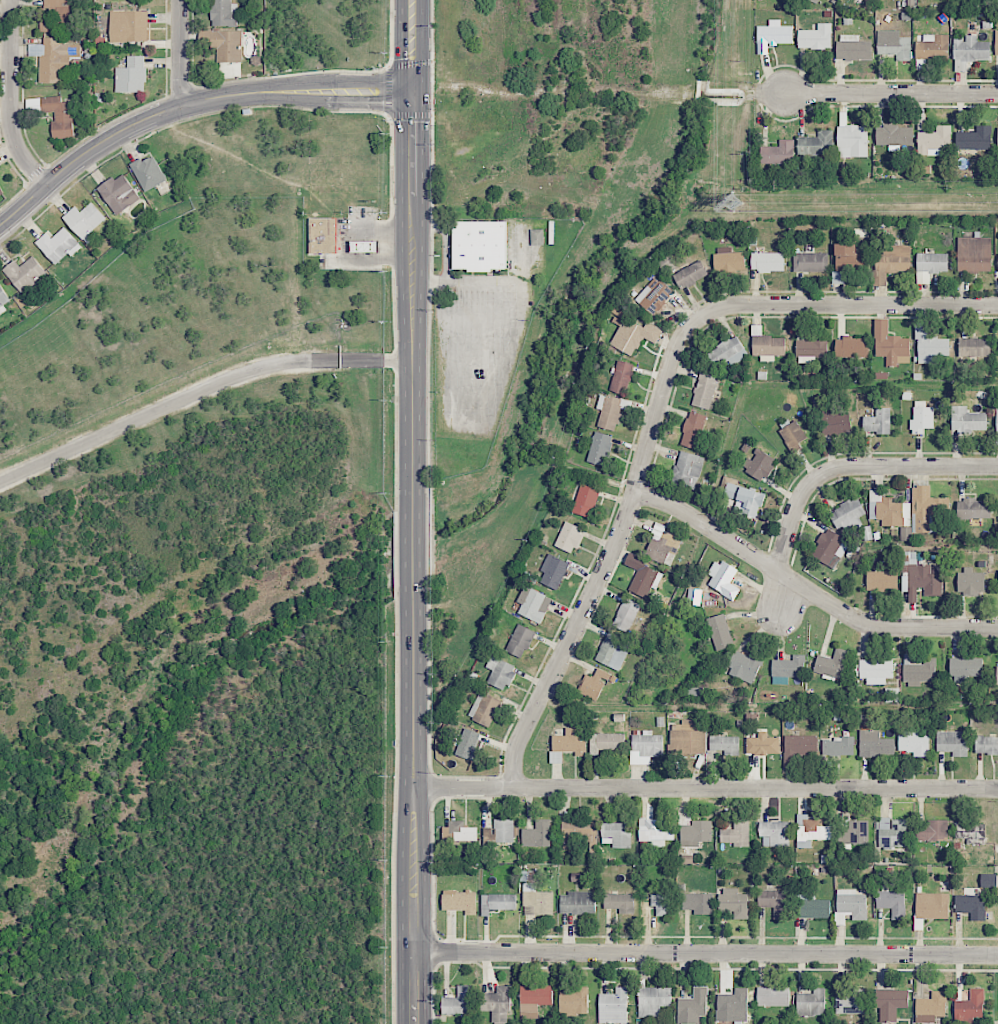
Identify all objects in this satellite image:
building: (817, 0)
building: (224, 13)
building: (57, 16)
building: (128, 26)
building: (773, 35)
building: (815, 37)
building: (996, 41)
building: (223, 44)
road: (410, 45)
building: (895, 47)
building: (932, 47)
building: (853, 48)
building: (969, 51)
road: (181, 54)
building: (53, 58)
building: (131, 75)
traffic signals: (410, 90)
road: (889, 93)
road: (11, 99)
road: (186, 106)
building: (54, 113)
building: (997, 136)
building: (974, 139)
building: (852, 141)
building: (934, 141)
building: (817, 144)
building: (778, 153)
building: (148, 173)
road: (410, 184)
building: (1, 192)
building: (119, 193)
power tower: (734, 203)
building: (84, 219)
building: (323, 235)
building: (537, 236)
building: (58, 245)
building: (479, 245)
building: (974, 254)
building: (849, 257)
building: (728, 260)
building: (767, 261)
building: (810, 261)
building: (892, 262)
building: (930, 265)
building: (25, 274)
building: (691, 274)
building: (654, 296)
building: (4, 298)
road: (844, 305)
building: (633, 336)
building: (766, 343)
building: (890, 345)
building: (930, 345)
building: (811, 347)
building: (851, 347)
building: (974, 347)
building: (728, 352)
road: (507, 365)
building: (621, 377)
road: (198, 390)
building: (705, 390)
building: (610, 411)
building: (921, 417)
building: (968, 419)
building: (997, 420)
building: (878, 421)
building: (835, 422)
building: (693, 429)
building: (792, 436)
building: (599, 448)
building: (760, 464)
road: (855, 466)
building: (687, 469)
building: (744, 497)
building: (585, 500)
building: (926, 509)
building: (973, 509)
building: (848, 515)
building: (569, 537)
building: (662, 546)
building: (827, 546)
road: (608, 557)
building: (553, 571)
building: (723, 579)
building: (643, 580)
building: (881, 580)
building: (971, 582)
road: (806, 589)
building: (533, 604)
building: (626, 614)
building: (719, 632)
building: (520, 640)
road: (413, 651)
building: (613, 651)
building: (831, 664)
building: (745, 666)
building: (965, 668)
building: (788, 669)
building: (875, 671)
building: (918, 671)
building: (500, 672)
building: (997, 674)
building: (593, 684)
building: (484, 709)
building: (687, 738)
building: (606, 742)
building: (952, 742)
building: (569, 743)
building: (913, 743)
building: (725, 744)
building: (762, 744)
building: (875, 744)
building: (986, 744)
building: (468, 745)
building: (800, 746)
building: (838, 746)
building: (645, 747)
road: (705, 789)
building: (932, 830)
building: (459, 831)
building: (500, 831)
building: (655, 831)
building: (811, 831)
building: (853, 832)
building: (892, 832)
building: (970, 832)
building: (695, 833)
building: (736, 833)
building: (774, 833)
building: (538, 834)
building: (579, 834)
building: (617, 834)
building: (988, 880)
building: (537, 900)
building: (892, 901)
building: (459, 902)
building: (497, 902)
building: (577, 902)
building: (620, 902)
building: (661, 902)
building: (734, 902)
building: (774, 902)
building: (698, 903)
building: (932, 905)
building: (971, 906)
building: (812, 907)
road: (704, 953)
building: (773, 996)
building: (534, 999)
building: (573, 1001)
building: (653, 1001)
building: (457, 1002)
building: (811, 1003)
building: (851, 1003)
building: (890, 1003)
building: (496, 1004)
building: (613, 1006)
building: (693, 1006)
building: (732, 1006)
building: (930, 1007)
building: (970, 1007)

